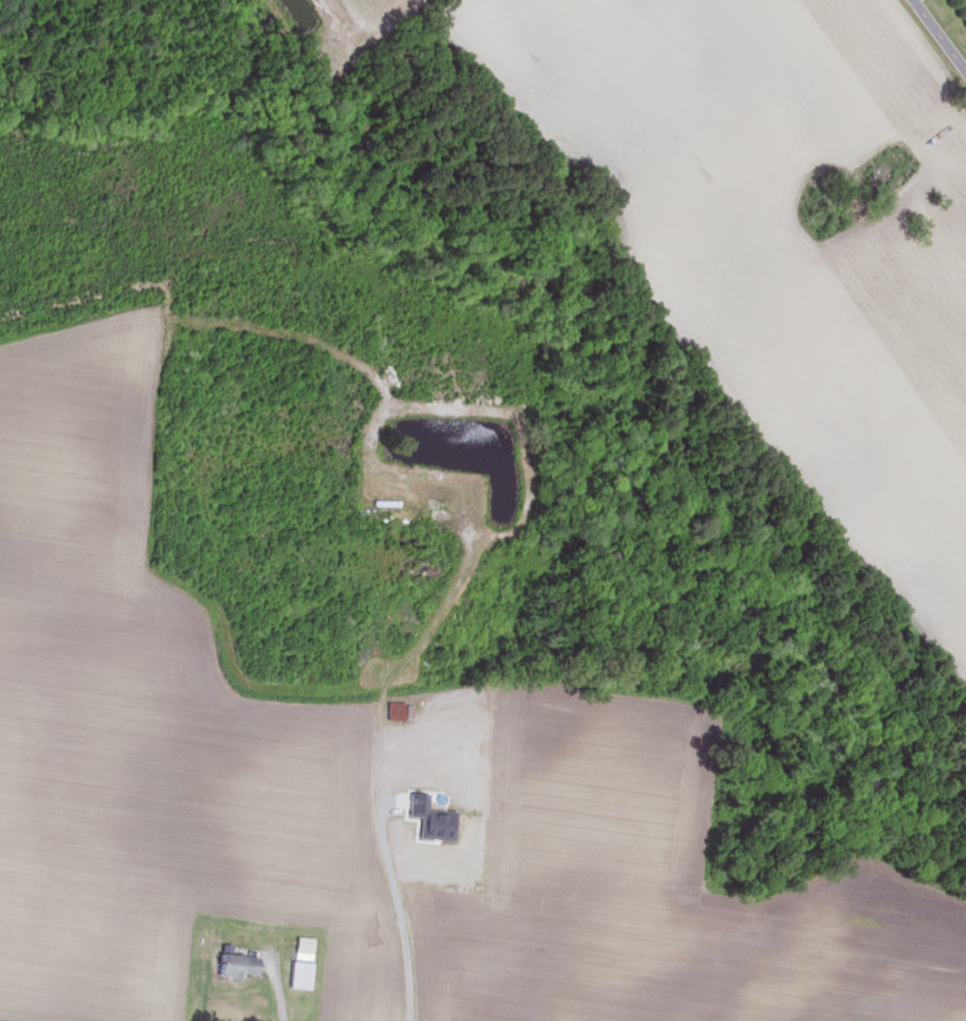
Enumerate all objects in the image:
road: (915, 0)
road: (940, 34)
building: (403, 819)
building: (300, 945)
building: (233, 965)
building: (296, 975)
road: (278, 993)

